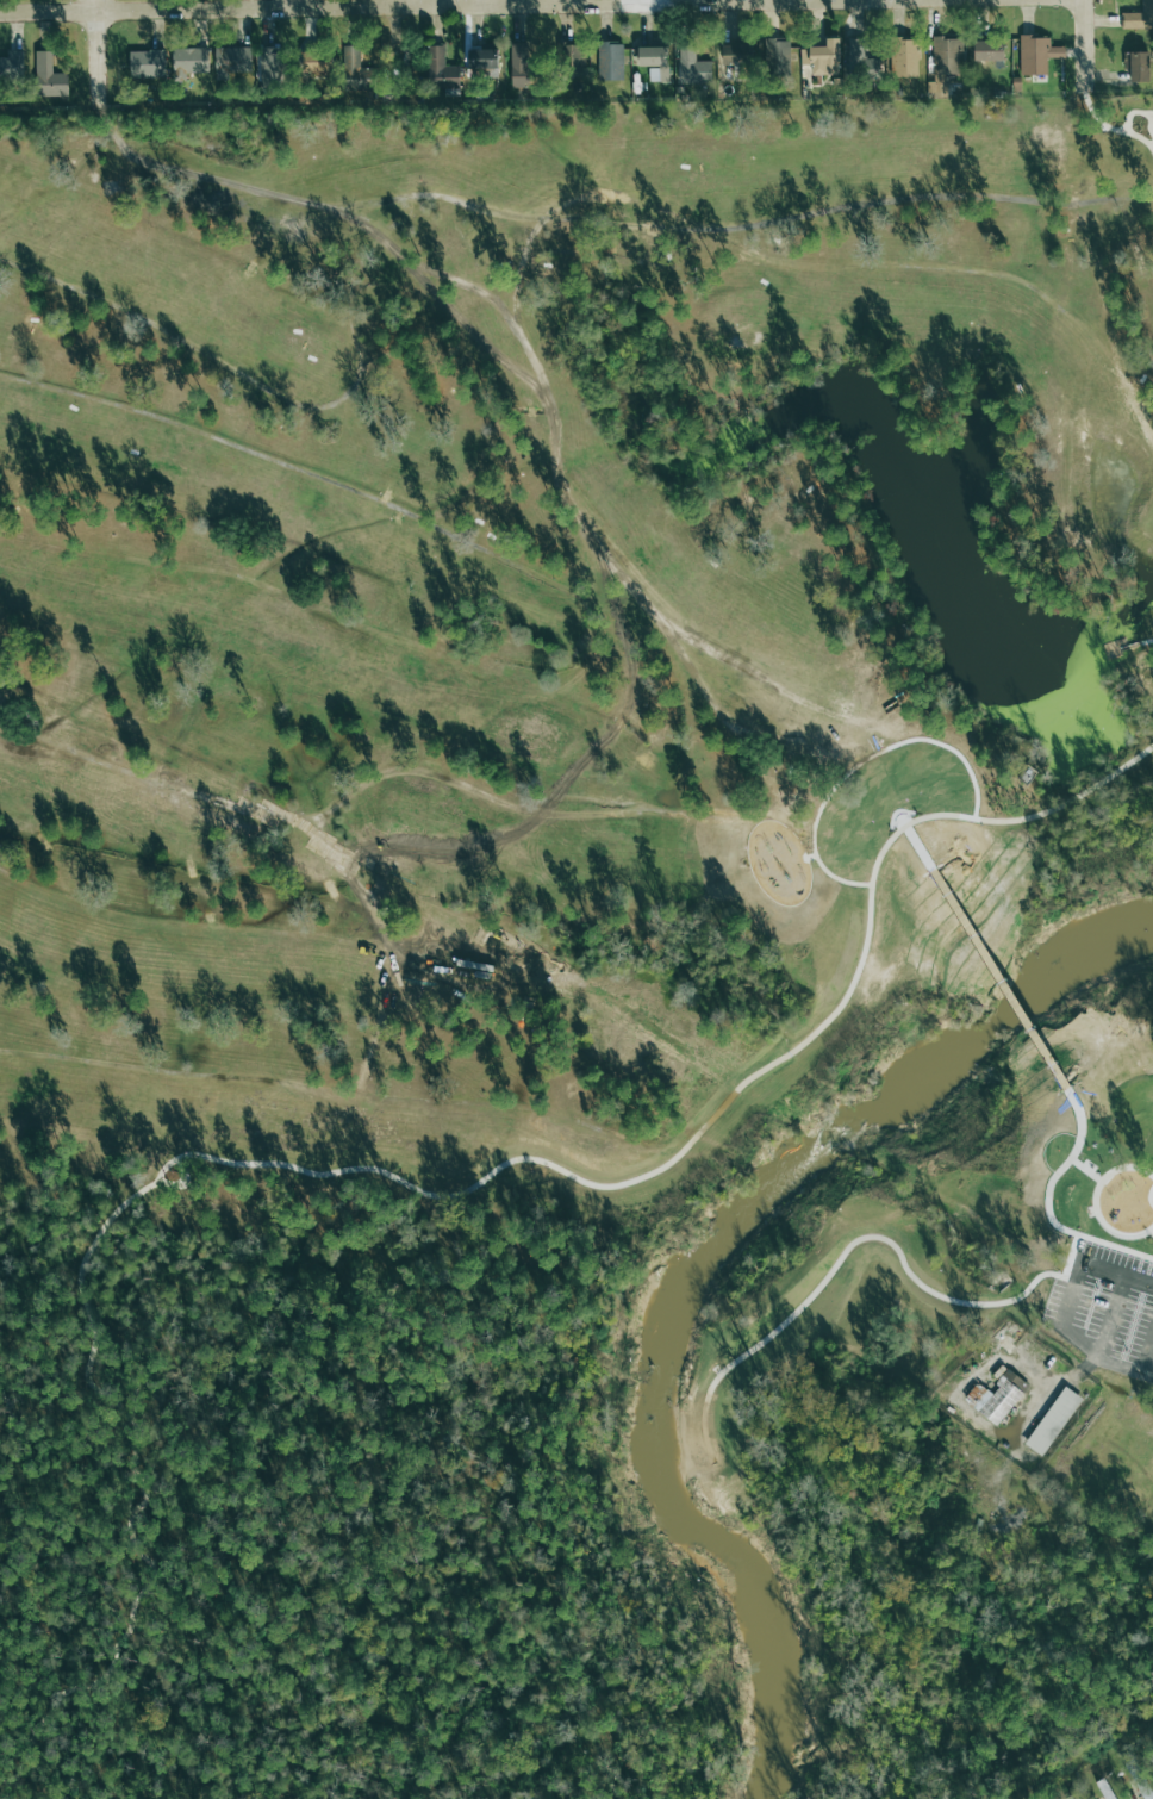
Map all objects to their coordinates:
road: (874, 0)
road: (681, 1)
road: (491, 4)
road: (293, 5)
road: (472, 7)
building: (1127, 20)
road: (1083, 45)
road: (99, 48)
building: (979, 51)
building: (1033, 55)
building: (940, 56)
building: (644, 57)
building: (314, 58)
building: (482, 58)
building: (773, 58)
building: (816, 58)
building: (899, 58)
building: (233, 60)
building: (571, 60)
building: (189, 61)
building: (607, 62)
building: (687, 62)
building: (147, 63)
building: (270, 67)
building: (521, 67)
building: (12, 68)
building: (1132, 68)
building: (441, 69)
building: (356, 70)
building: (48, 75)
building: (691, 77)
road: (1145, 114)
road: (1113, 130)
road: (1132, 645)
road: (861, 762)
road: (921, 846)
park: (572, 940)
road: (1003, 978)
road: (1074, 1098)
road: (718, 1107)
road: (1087, 1170)
road: (1096, 1201)
road: (1051, 1213)
road: (841, 1258)
road: (1071, 1259)
road: (1113, 1266)
river: (698, 1270)
building: (993, 1398)
building: (1048, 1421)
road: (121, 1465)
building: (1143, 1793)

